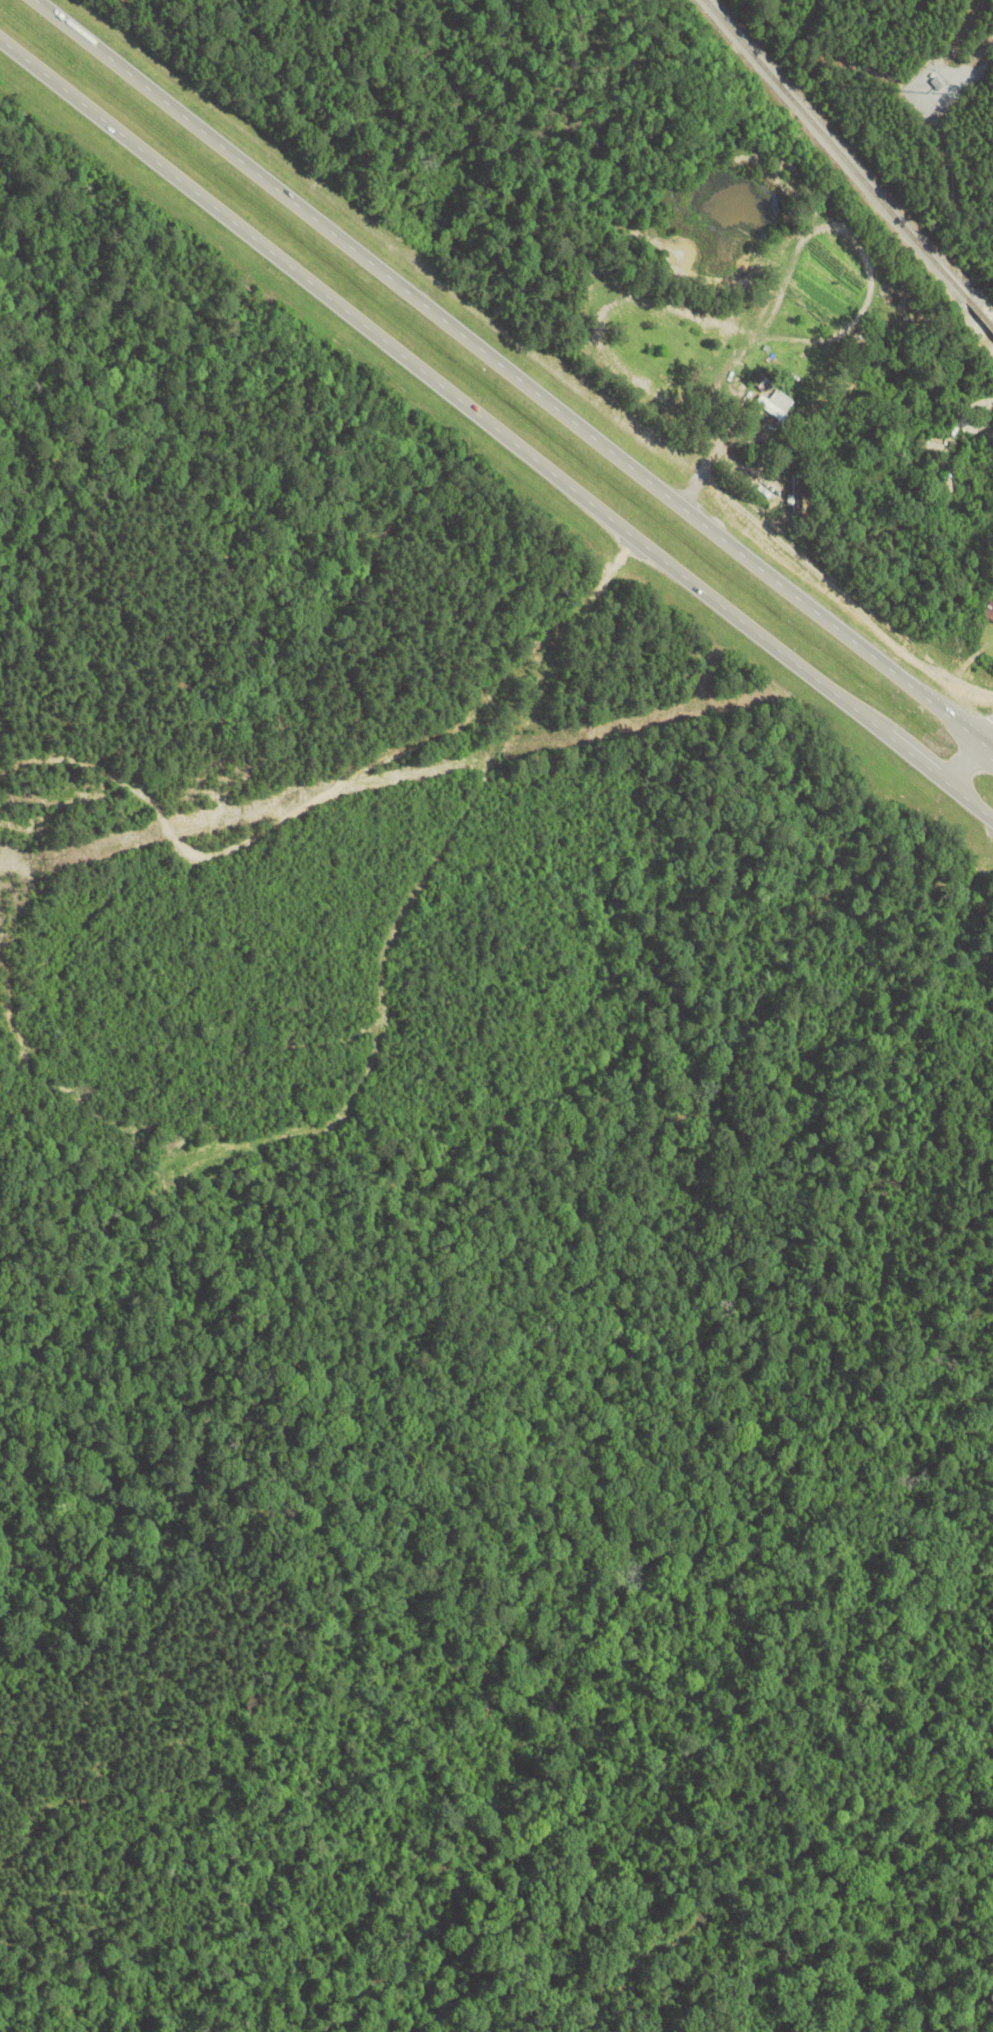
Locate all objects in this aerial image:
railway: (850, 163)
road: (513, 378)
building: (778, 404)
road: (496, 431)
building: (990, 613)
road: (984, 731)
road: (961, 764)

